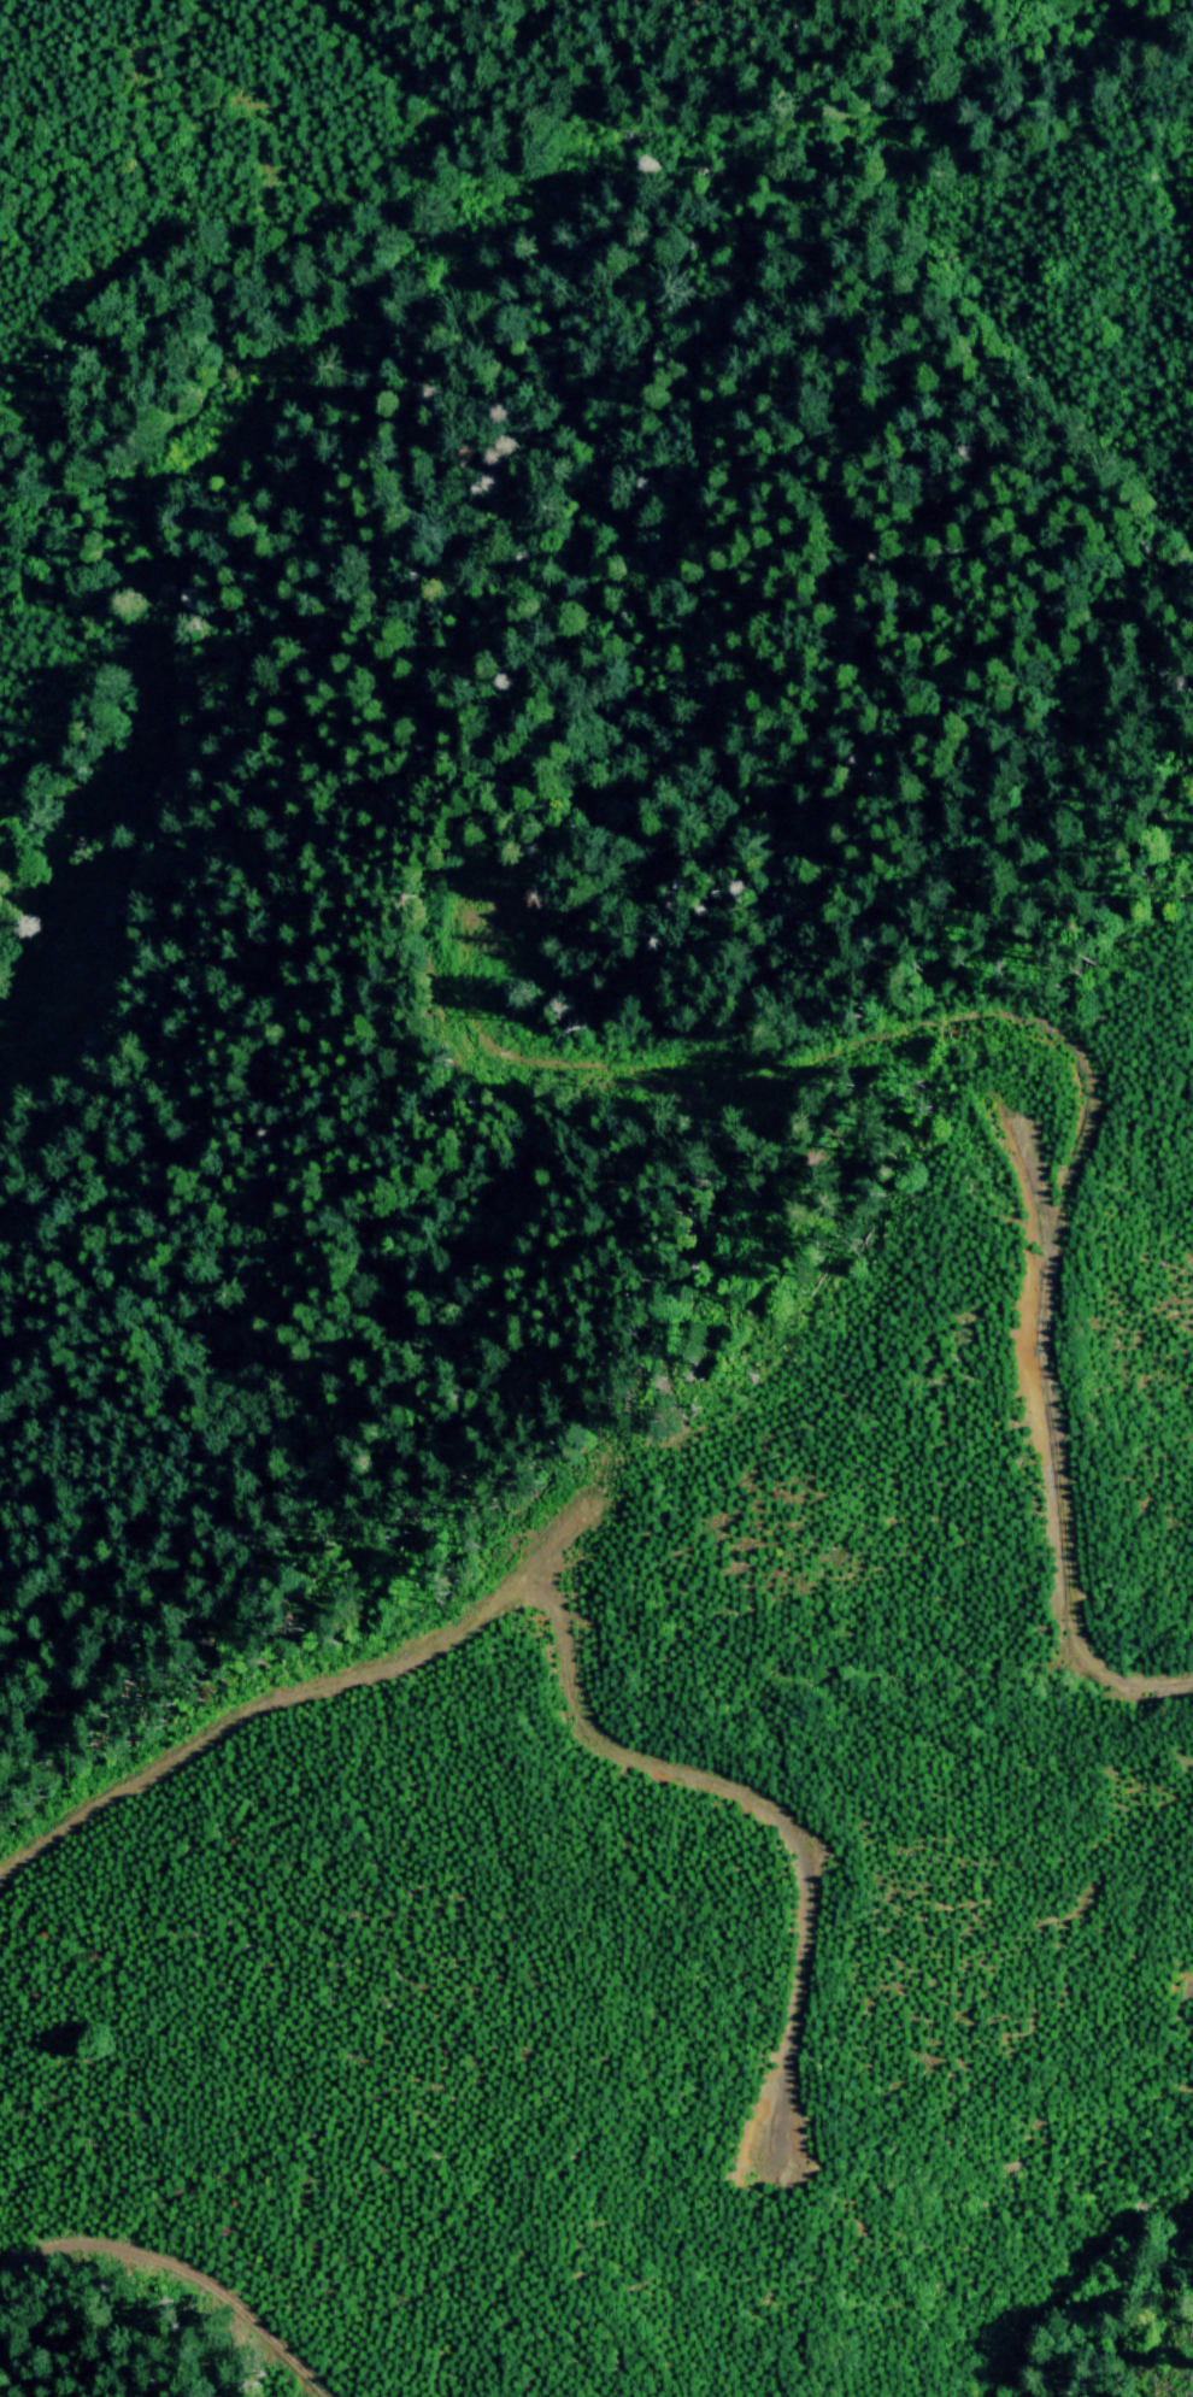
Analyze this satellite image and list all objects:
road: (1057, 1033)
road: (1187, 1982)
road: (182, 2264)

